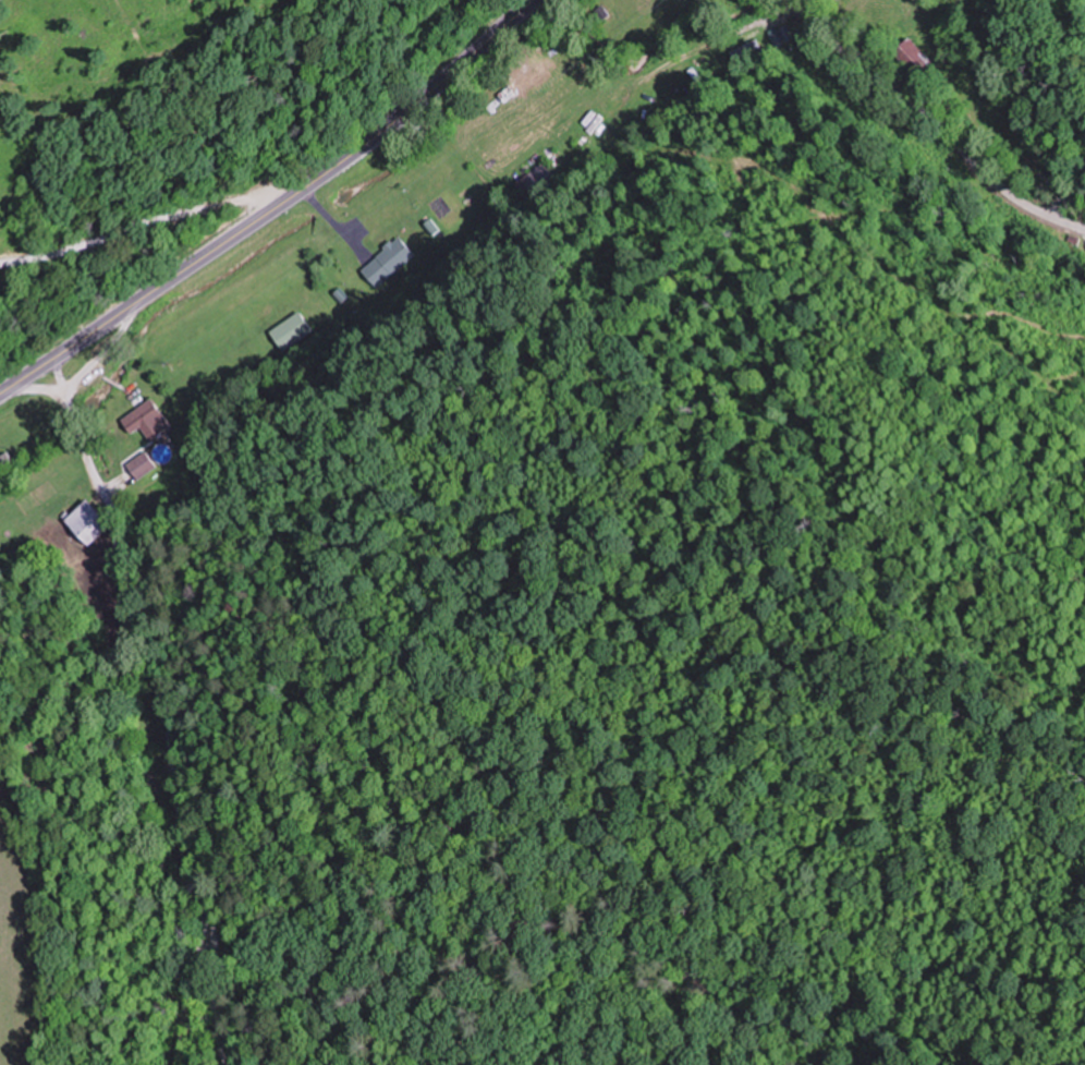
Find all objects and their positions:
building: (926, 50)
building: (745, 51)
road: (932, 123)
building: (536, 181)
road: (272, 206)
road: (143, 218)
building: (388, 262)
building: (292, 330)
road: (107, 350)
building: (151, 419)
building: (143, 465)
building: (88, 522)
road: (159, 695)
road: (188, 997)

